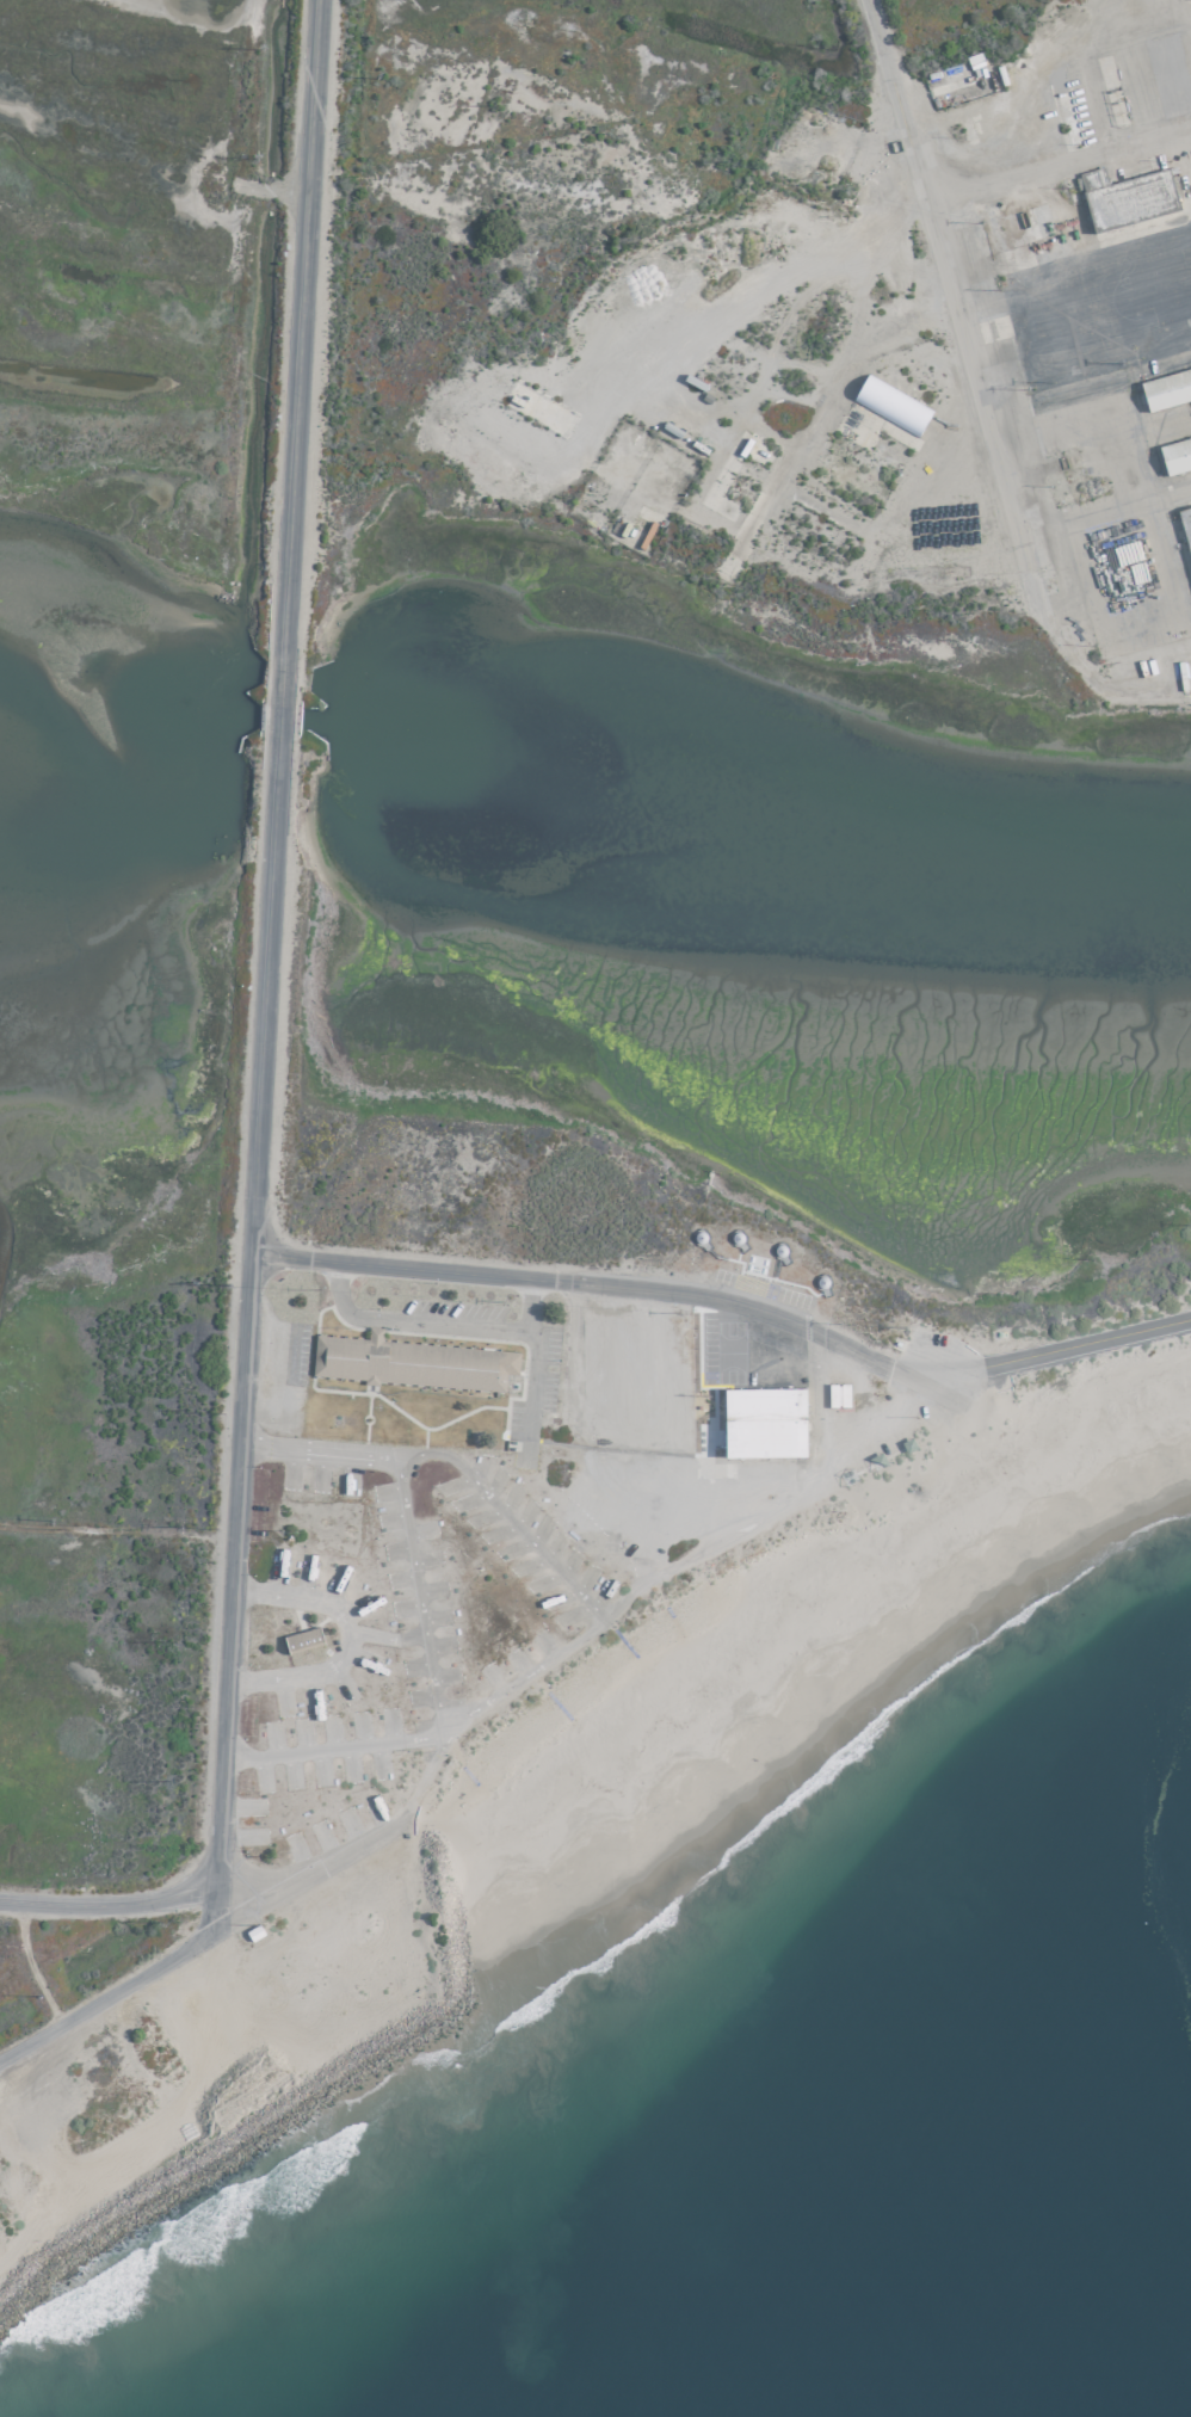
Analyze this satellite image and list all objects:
building: (1124, 197)
road: (294, 325)
road: (963, 340)
building: (1165, 387)
building: (889, 405)
building: (1174, 454)
building: (1185, 528)
road: (277, 690)
airport: (553, 1036)
road: (603, 1284)
road: (246, 1294)
road: (523, 1302)
road: (406, 1318)
building: (408, 1362)
road: (526, 1383)
building: (835, 1394)
building: (763, 1420)
road: (117, 1531)
road: (675, 1568)
building: (300, 1638)
road: (116, 1905)
road: (135, 1979)

